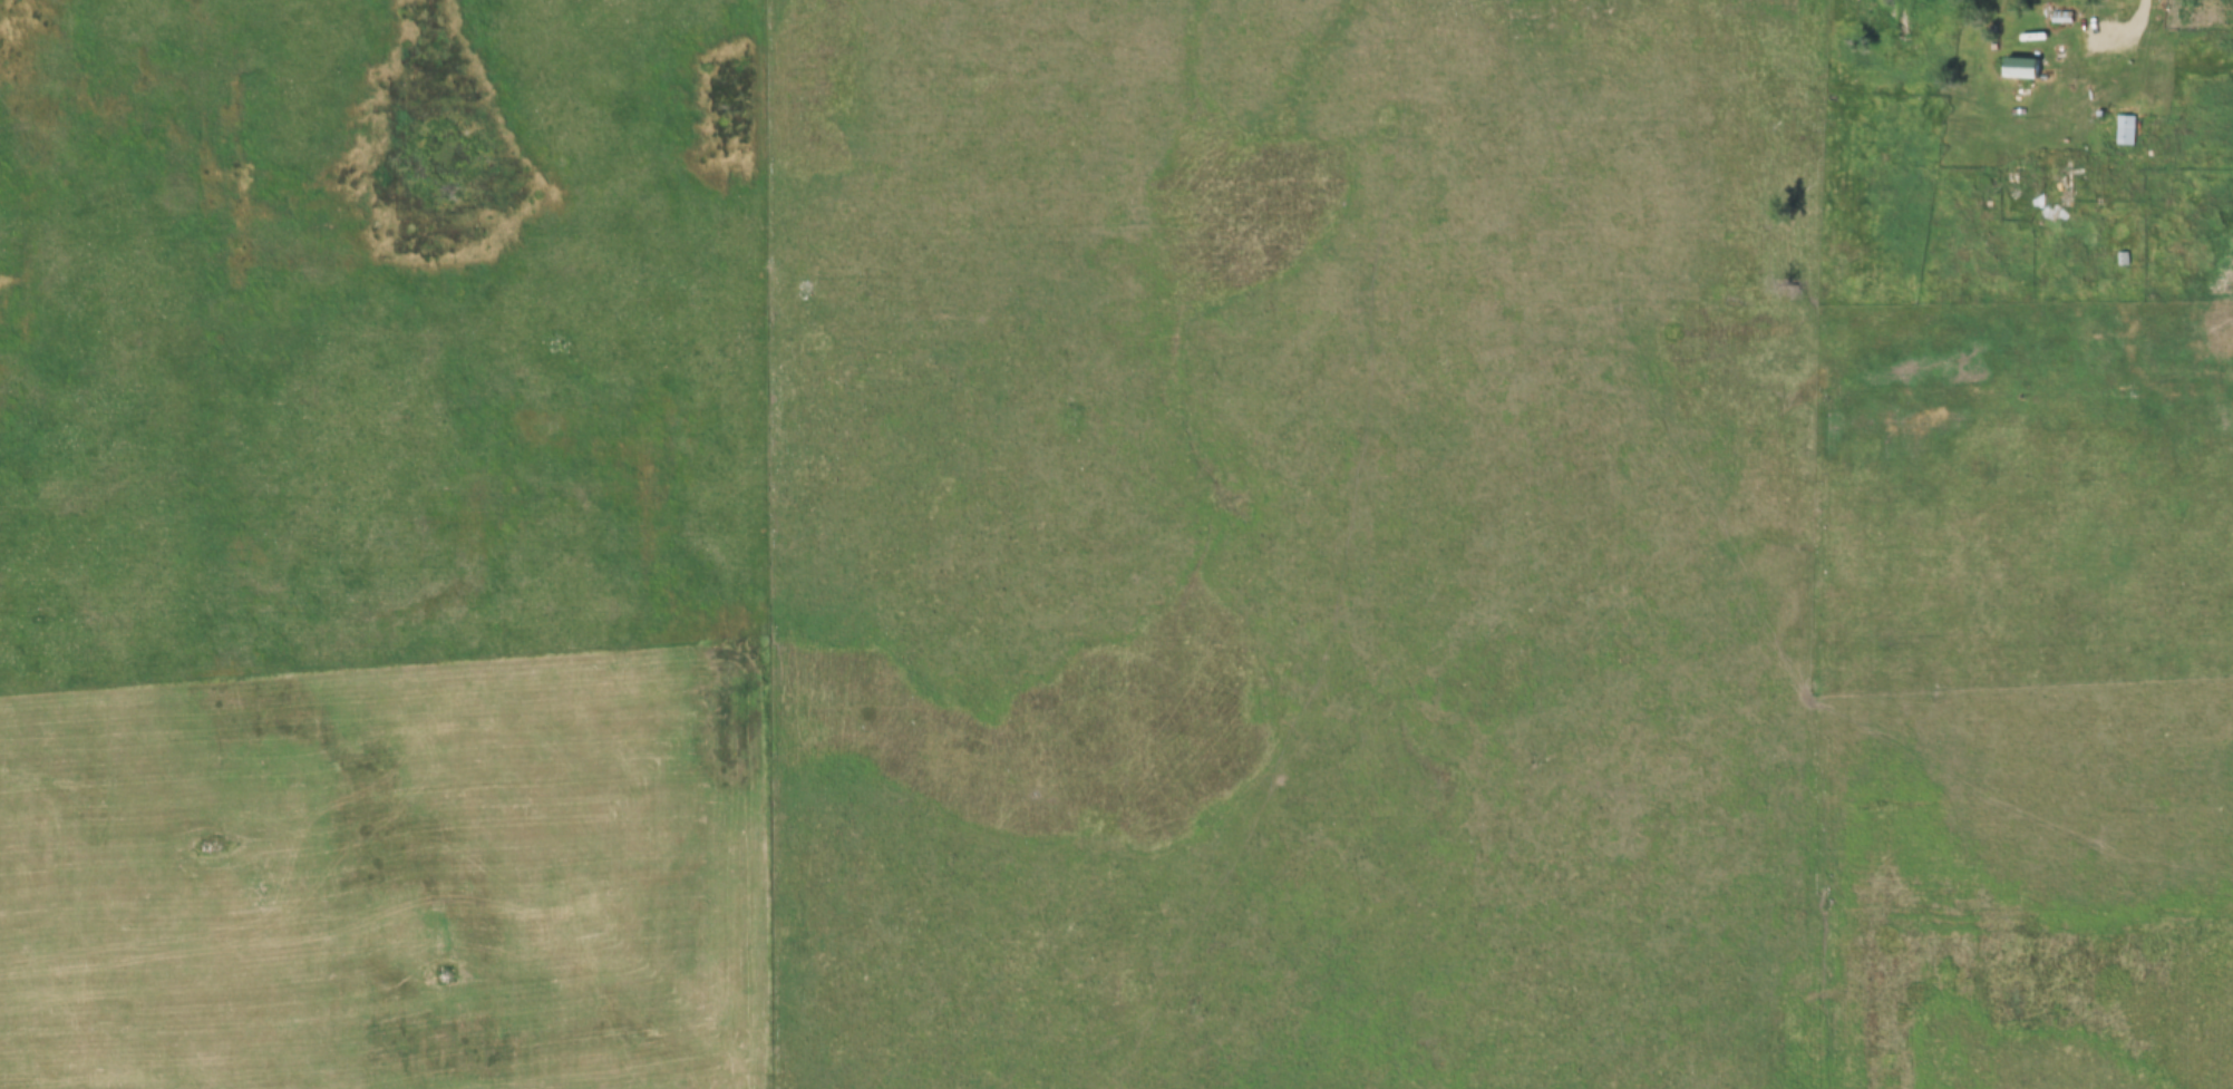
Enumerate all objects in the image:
building: (2062, 18)
road: (2130, 29)
building: (2022, 67)
building: (2126, 130)
building: (1989, 178)
building: (2059, 188)

